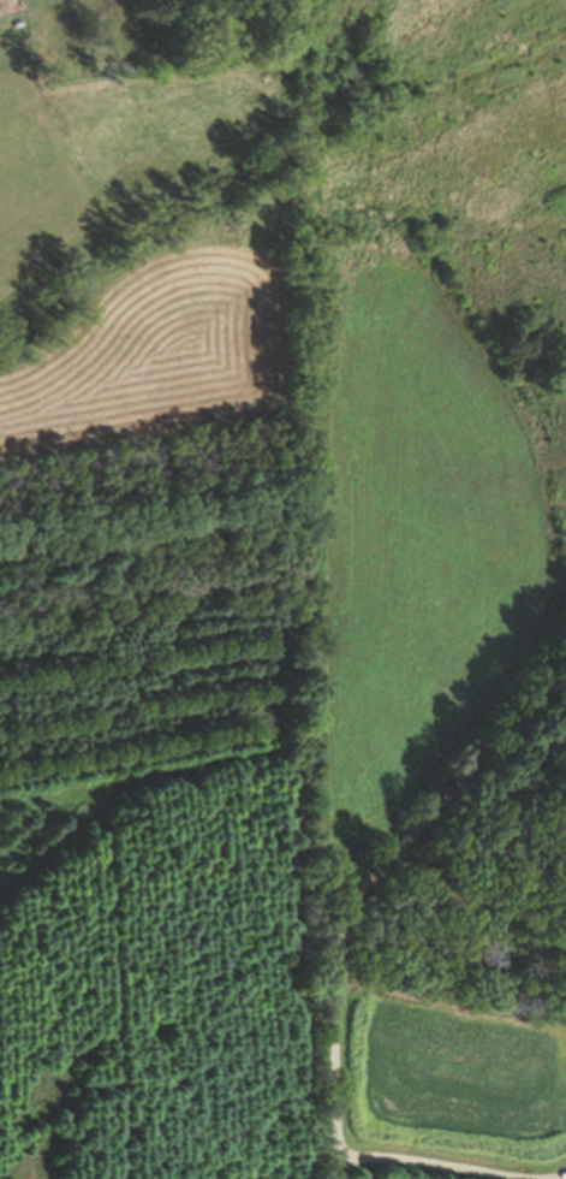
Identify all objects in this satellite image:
road: (370, 890)
road: (447, 1168)

